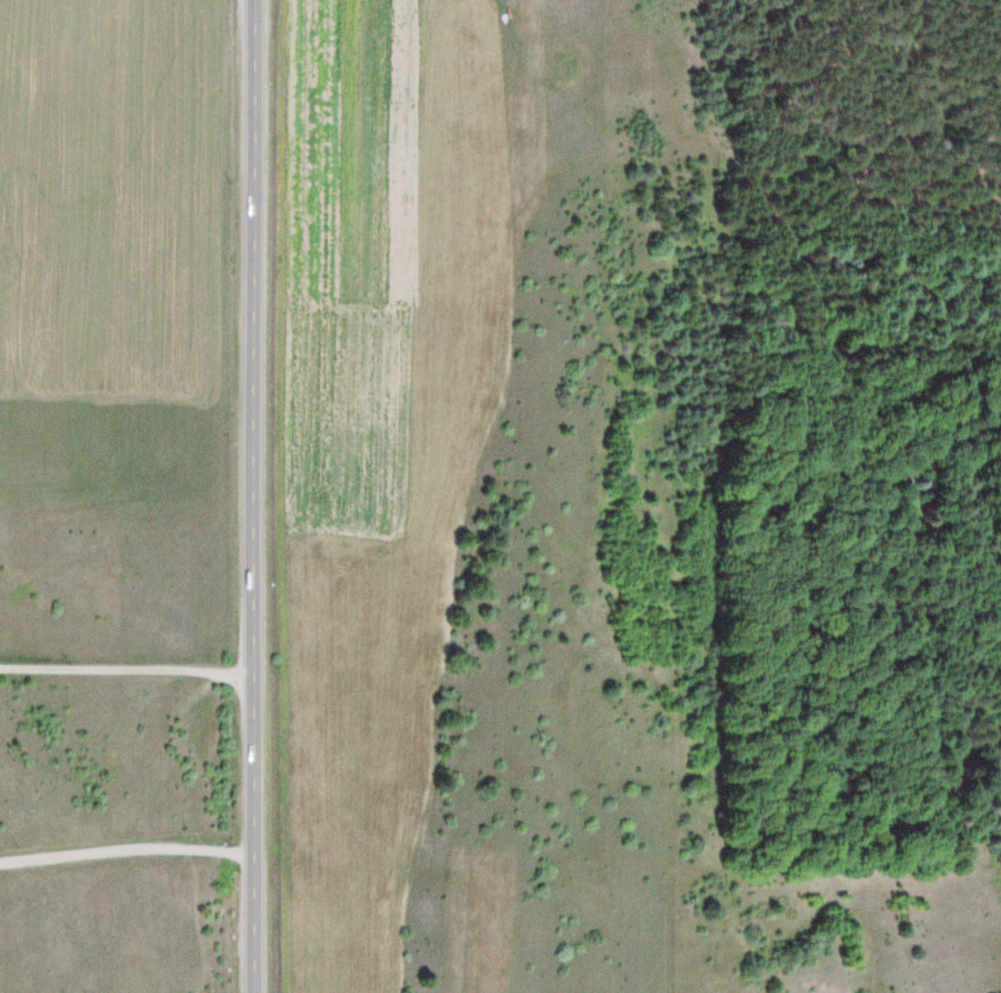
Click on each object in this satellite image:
road: (253, 496)
road: (127, 668)

